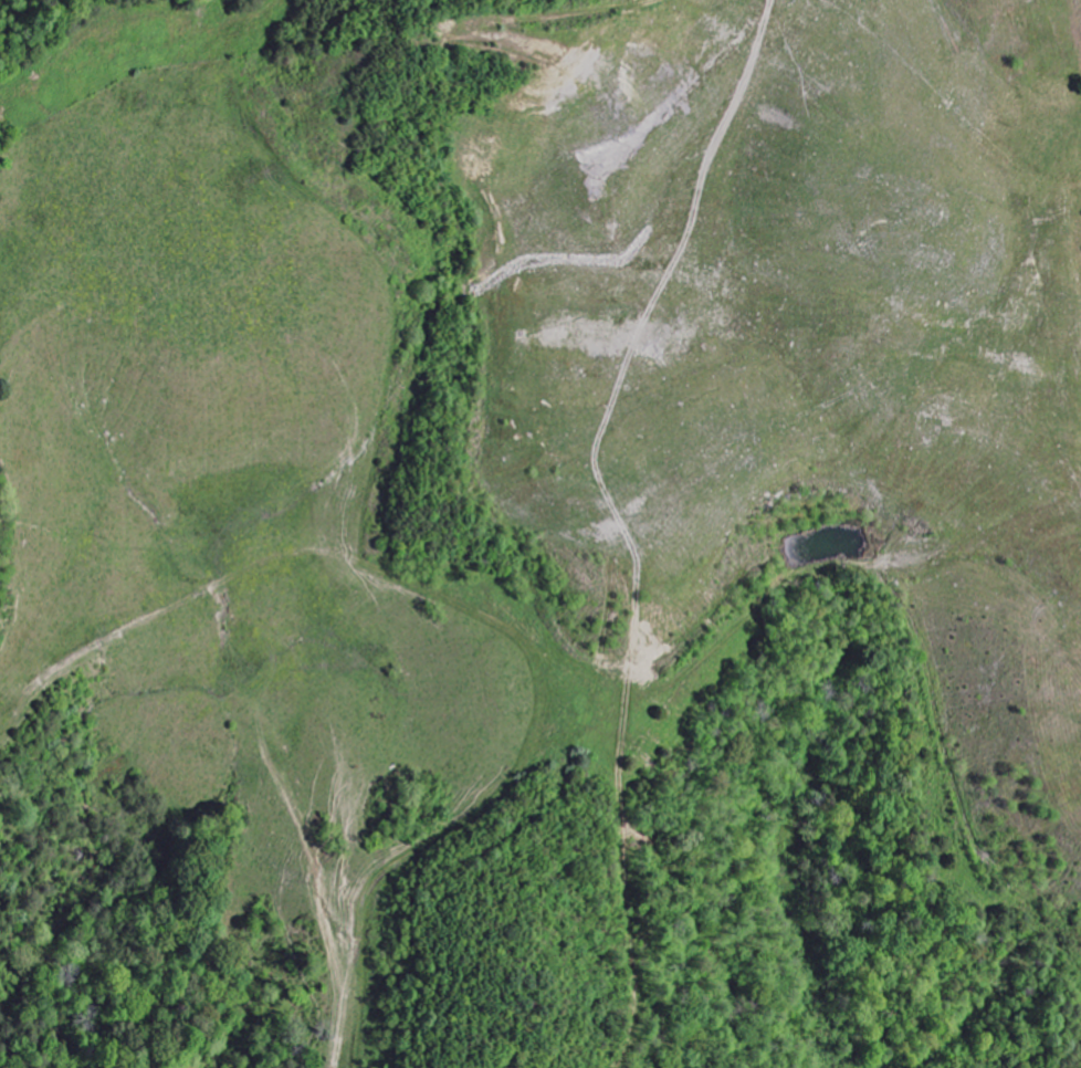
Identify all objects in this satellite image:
landfill: (764, 345)

